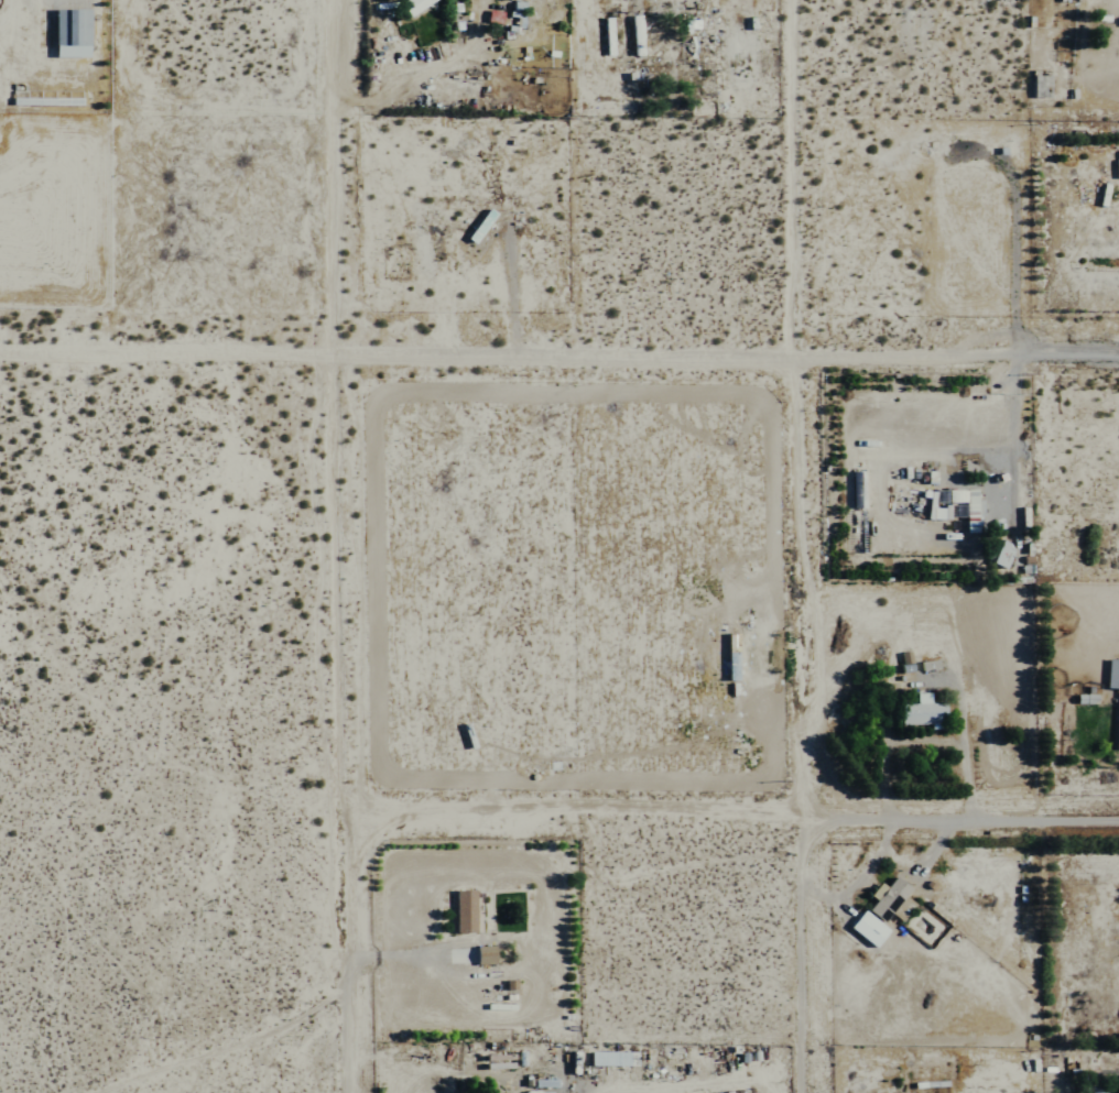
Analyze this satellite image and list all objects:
road: (559, 348)
road: (1010, 435)
road: (345, 546)
road: (802, 546)
road: (734, 815)
building: (461, 911)
building: (481, 955)
road: (227, 1046)
building: (606, 1058)
building: (497, 1061)

